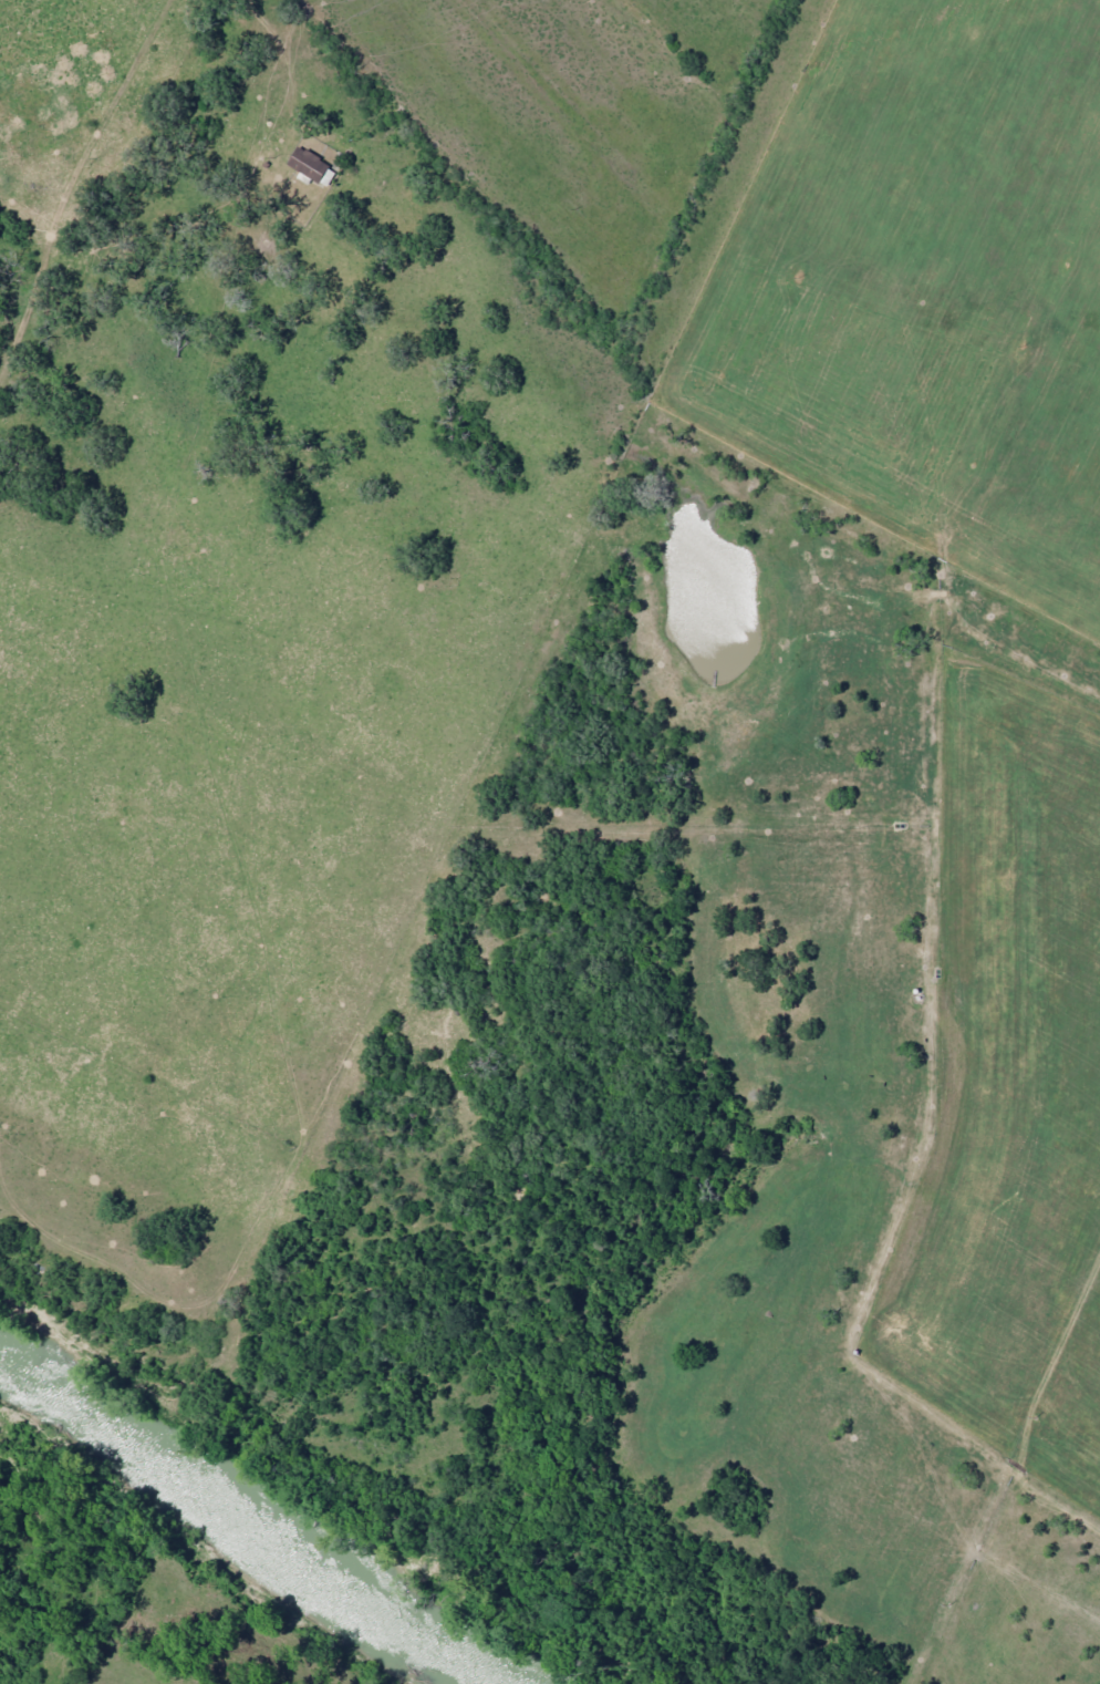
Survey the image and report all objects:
building: (311, 165)
road: (519, 740)
road: (917, 1022)
road: (978, 1475)
river: (225, 1539)

